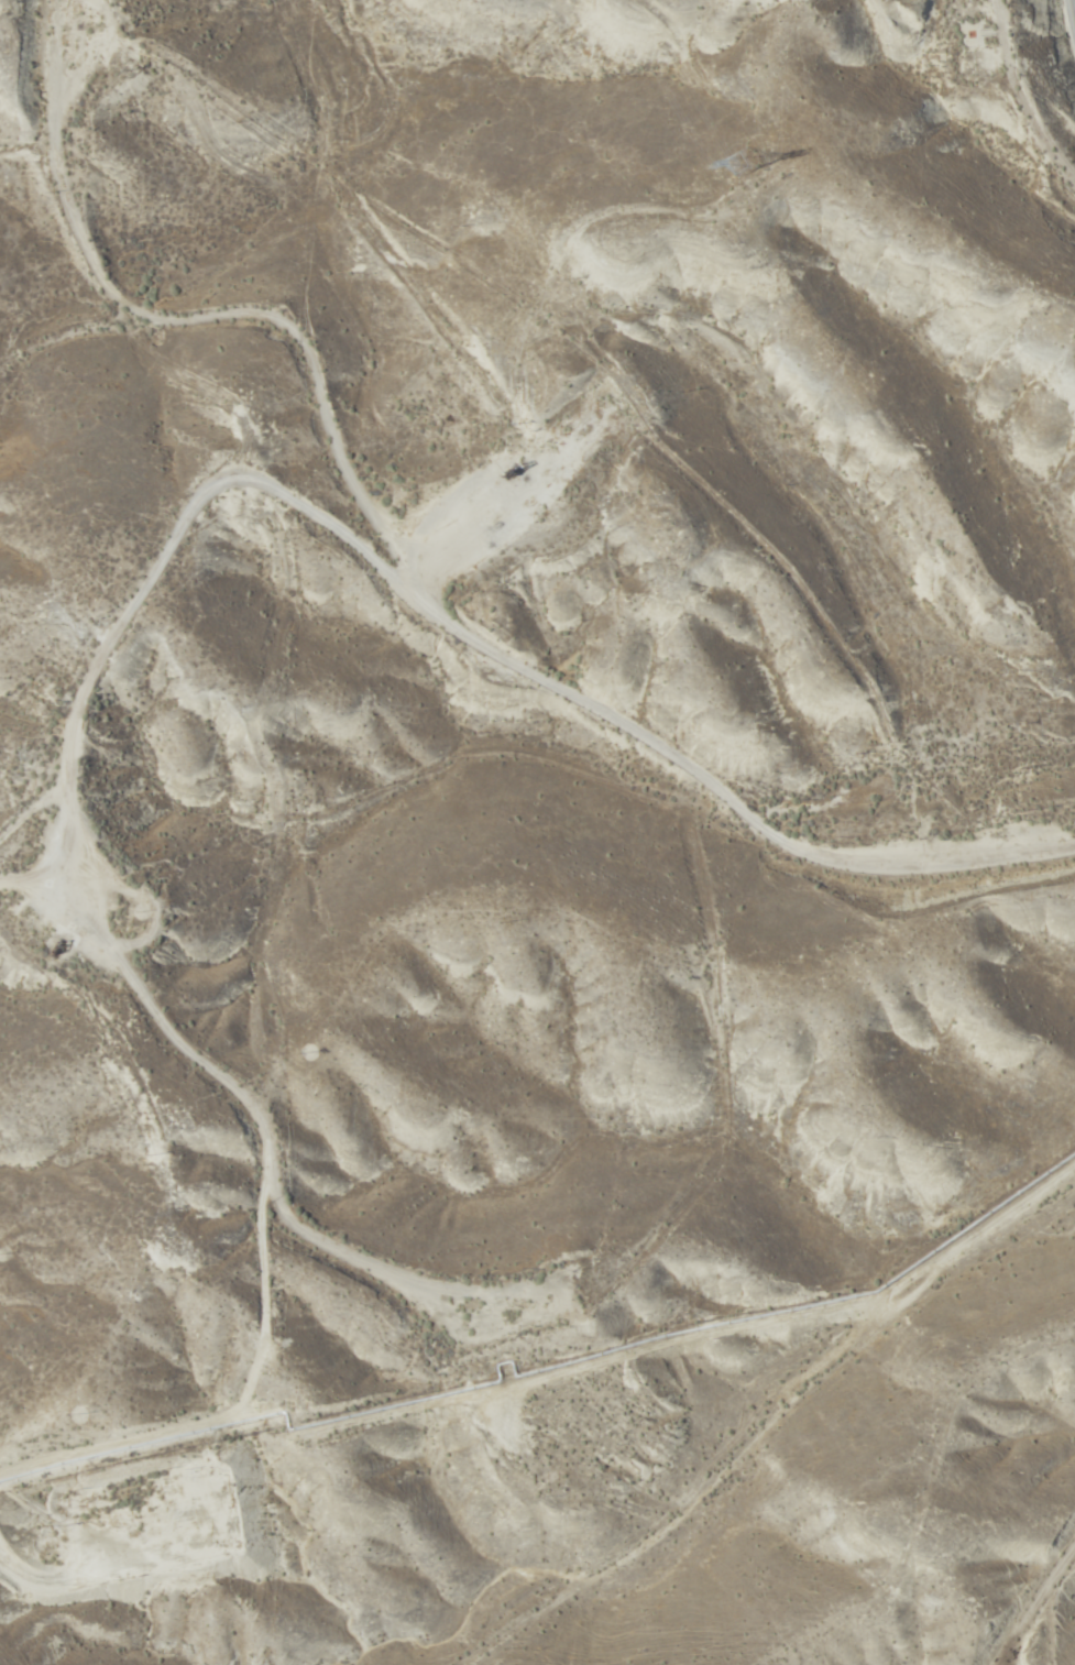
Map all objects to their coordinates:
road: (1023, 65)
power tower: (742, 163)
road: (349, 416)
road: (175, 577)
road: (168, 873)
road: (769, 1431)
road: (1051, 1629)

